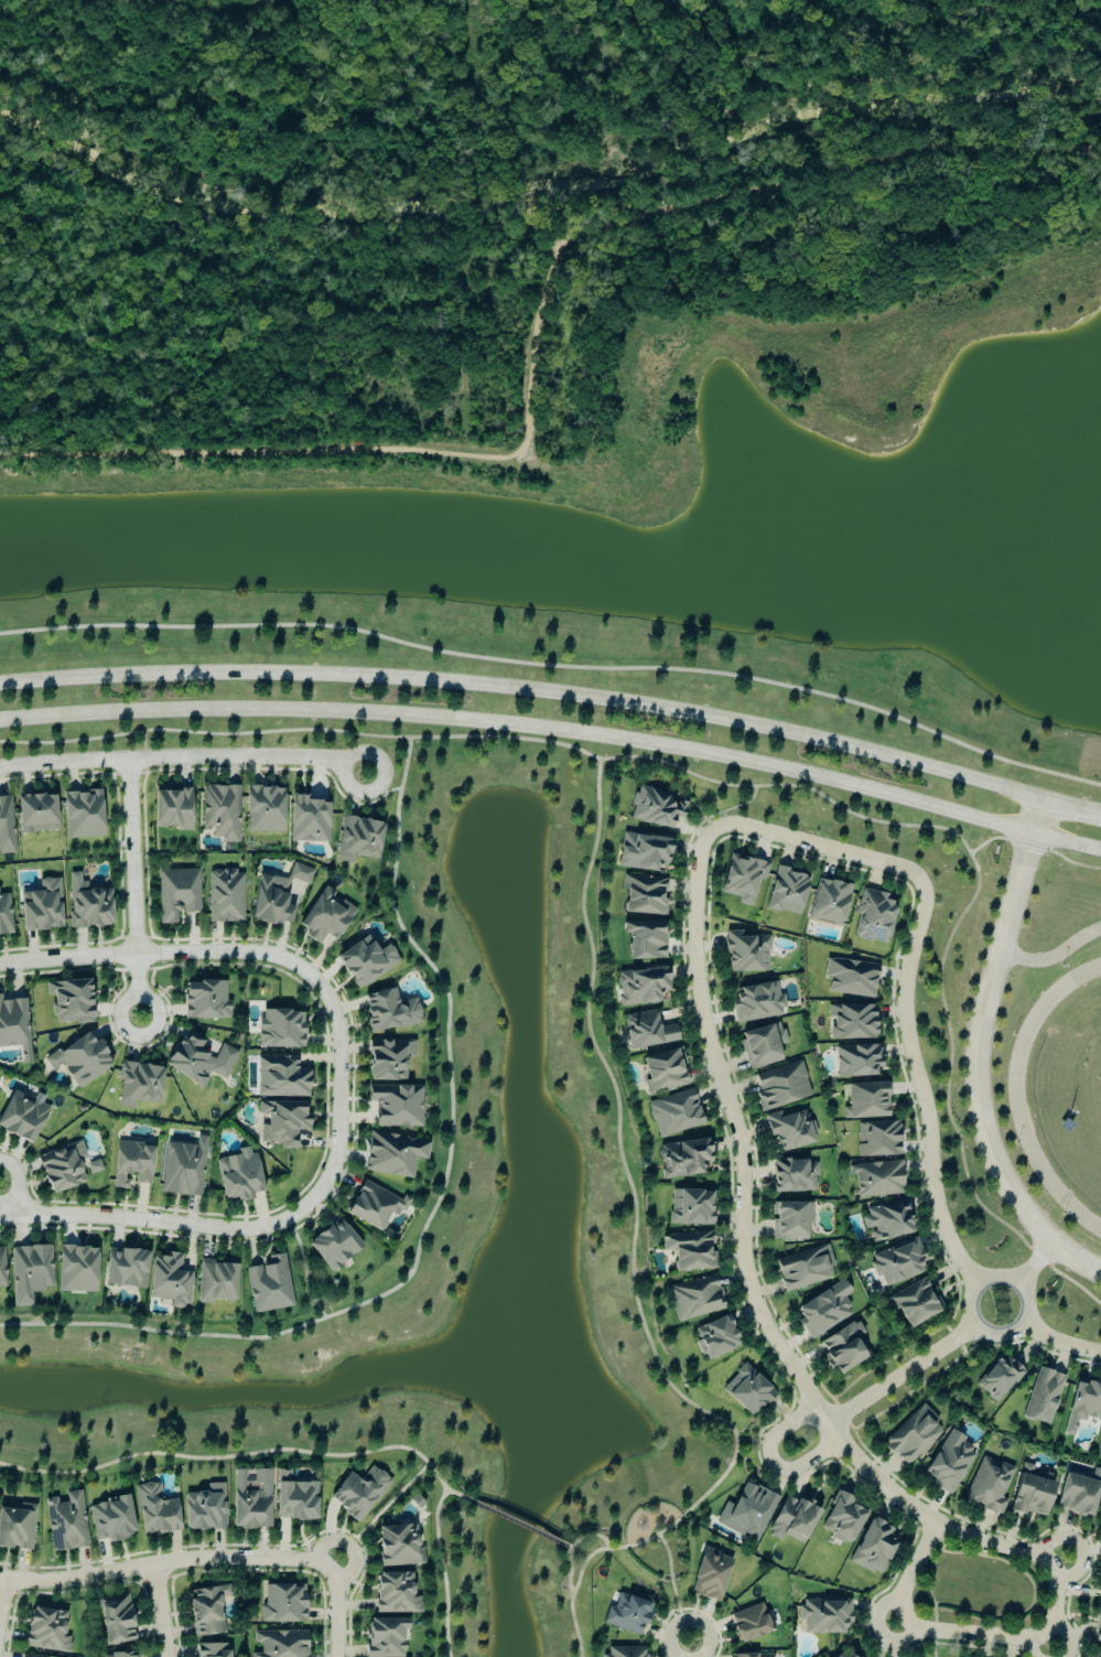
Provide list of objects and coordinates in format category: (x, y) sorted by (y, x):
river: (547, 185)
road: (532, 329)
road: (557, 669)
road: (527, 688)
road: (557, 724)
road: (145, 744)
road: (183, 756)
road: (716, 782)
road: (1071, 806)
building: (656, 807)
building: (172, 808)
building: (263, 809)
building: (220, 811)
building: (36, 814)
building: (82, 815)
building: (307, 820)
building: (6, 826)
building: (358, 839)
road: (996, 839)
road: (823, 848)
building: (644, 852)
road: (1064, 859)
building: (743, 879)
road: (136, 887)
building: (787, 892)
building: (176, 894)
building: (644, 895)
building: (225, 896)
building: (278, 896)
building: (828, 903)
building: (87, 904)
building: (41, 906)
building: (4, 915)
building: (325, 916)
building: (873, 916)
building: (645, 940)
building: (746, 953)
road: (68, 957)
road: (1055, 957)
building: (365, 961)
building: (851, 978)
building: (640, 987)
building: (205, 1000)
building: (69, 1001)
building: (757, 1003)
building: (389, 1012)
building: (852, 1022)
building: (14, 1027)
building: (280, 1029)
building: (647, 1031)
building: (762, 1045)
road: (979, 1056)
building: (388, 1059)
building: (80, 1061)
building: (198, 1061)
building: (857, 1062)
building: (662, 1072)
building: (280, 1078)
building: (139, 1085)
road: (919, 1086)
building: (781, 1087)
road: (1018, 1096)
building: (866, 1101)
building: (396, 1106)
building: (674, 1113)
building: (22, 1117)
building: (281, 1123)
building: (789, 1131)
building: (877, 1139)
building: (393, 1154)
road: (337, 1158)
building: (684, 1159)
building: (131, 1164)
building: (65, 1168)
building: (183, 1169)
building: (794, 1176)
building: (238, 1177)
building: (877, 1179)
road: (18, 1183)
building: (374, 1206)
building: (690, 1208)
building: (788, 1220)
building: (887, 1220)
building: (334, 1245)
building: (688, 1251)
building: (897, 1263)
road: (1037, 1265)
building: (126, 1269)
road: (748, 1269)
building: (805, 1269)
building: (2, 1270)
building: (76, 1270)
building: (29, 1273)
road: (1072, 1280)
building: (169, 1281)
building: (215, 1282)
building: (269, 1285)
building: (695, 1299)
building: (916, 1303)
building: (823, 1310)
road: (978, 1327)
building: (715, 1337)
road: (1059, 1343)
building: (842, 1348)
road: (903, 1376)
building: (999, 1378)
building: (747, 1391)
building: (1043, 1397)
building: (1084, 1401)
building: (913, 1437)
road: (776, 1462)
building: (950, 1463)
building: (989, 1486)
building: (358, 1493)
building: (1030, 1494)
building: (1077, 1496)
building: (294, 1499)
building: (250, 1500)
building: (204, 1509)
building: (155, 1511)
building: (747, 1513)
building: (110, 1519)
building: (842, 1519)
building: (792, 1521)
building: (66, 1522)
road: (517, 1522)
building: (17, 1528)
building: (398, 1546)
building: (874, 1548)
road: (168, 1561)
building: (711, 1577)
road: (929, 1578)
park: (978, 1590)
building: (396, 1594)
road: (1034, 1594)
road: (2, 1597)
building: (282, 1604)
building: (224, 1605)
road: (337, 1607)
road: (163, 1610)
building: (206, 1611)
building: (627, 1615)
building: (824, 1617)
building: (115, 1621)
building: (749, 1624)
building: (1098, 1626)
building: (46, 1631)
road: (956, 1634)
building: (386, 1637)
building: (281, 1644)
road: (933, 1645)
building: (212, 1650)
road: (691, 1650)
building: (624, 1653)
building: (845, 1654)
building: (1098, 1654)
building: (117, 1655)
building: (28, 1656)
building: (753, 1656)

